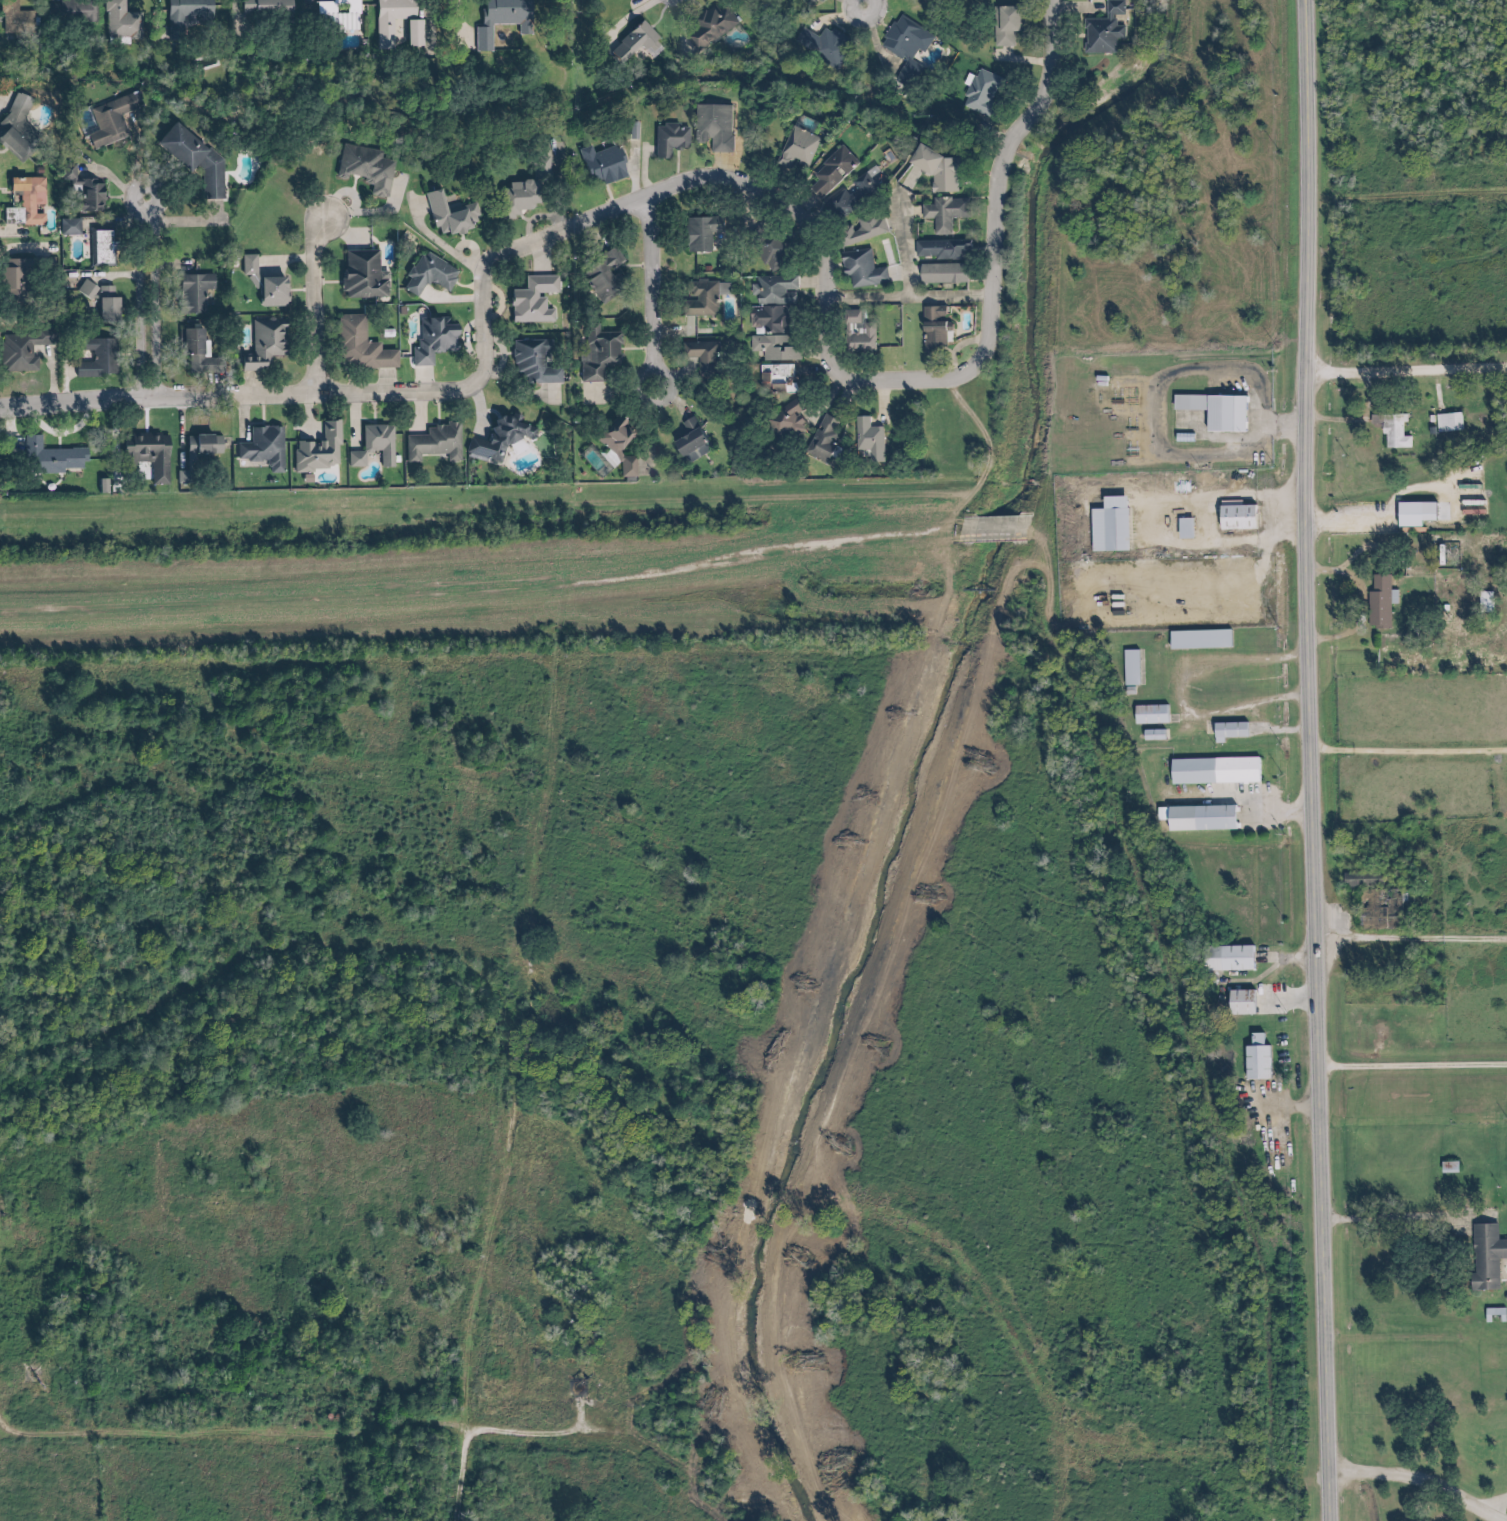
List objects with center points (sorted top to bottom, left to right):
road: (870, 2)
building: (267, 7)
building: (333, 7)
building: (75, 12)
building: (194, 12)
building: (500, 16)
building: (20, 20)
building: (125, 22)
building: (1006, 26)
building: (709, 27)
building: (1104, 30)
building: (384, 33)
building: (901, 37)
building: (634, 43)
building: (822, 45)
building: (984, 94)
building: (113, 120)
building: (714, 127)
building: (19, 134)
building: (670, 140)
building: (797, 150)
building: (601, 166)
building: (367, 169)
building: (938, 171)
building: (831, 174)
building: (213, 181)
building: (528, 190)
building: (89, 196)
building: (852, 198)
building: (28, 202)
building: (945, 210)
building: (446, 217)
building: (861, 230)
building: (701, 234)
building: (105, 248)
building: (940, 250)
building: (775, 253)
building: (863, 271)
building: (942, 274)
building: (362, 276)
building: (428, 276)
building: (603, 276)
building: (21, 283)
building: (266, 284)
building: (200, 292)
road: (661, 292)
road: (152, 296)
building: (703, 298)
building: (532, 301)
road: (318, 302)
building: (772, 303)
building: (114, 310)
road: (835, 310)
building: (933, 332)
building: (861, 333)
building: (433, 339)
building: (266, 344)
building: (360, 347)
building: (28, 348)
building: (199, 348)
building: (776, 348)
building: (598, 353)
building: (704, 358)
building: (104, 361)
building: (534, 363)
road: (1405, 368)
building: (776, 380)
road: (228, 394)
building: (1215, 410)
building: (788, 422)
building: (1445, 422)
building: (1387, 430)
building: (824, 440)
building: (500, 441)
building: (869, 441)
building: (434, 444)
building: (617, 444)
building: (691, 444)
building: (373, 447)
building: (265, 449)
building: (203, 451)
building: (0, 452)
building: (318, 452)
building: (155, 456)
building: (55, 457)
building: (122, 479)
building: (1405, 513)
building: (1236, 518)
building: (1109, 526)
building: (1185, 529)
building: (984, 531)
road: (558, 579)
building: (1375, 600)
road: (1356, 602)
building: (1485, 602)
building: (1199, 641)
building: (1131, 668)
building: (1150, 715)
building: (1229, 732)
building: (1153, 736)
road: (1307, 760)
building: (1213, 772)
building: (1199, 819)
building: (1363, 880)
road: (1409, 939)
building: (1226, 959)
building: (1240, 1003)
building: (1256, 1060)
road: (1413, 1065)
building: (1449, 1168)
road: (490, 1187)
road: (1403, 1218)
building: (1483, 1254)
building: (1491, 1314)
road: (235, 1428)
road: (1418, 1483)
road: (1488, 1502)

